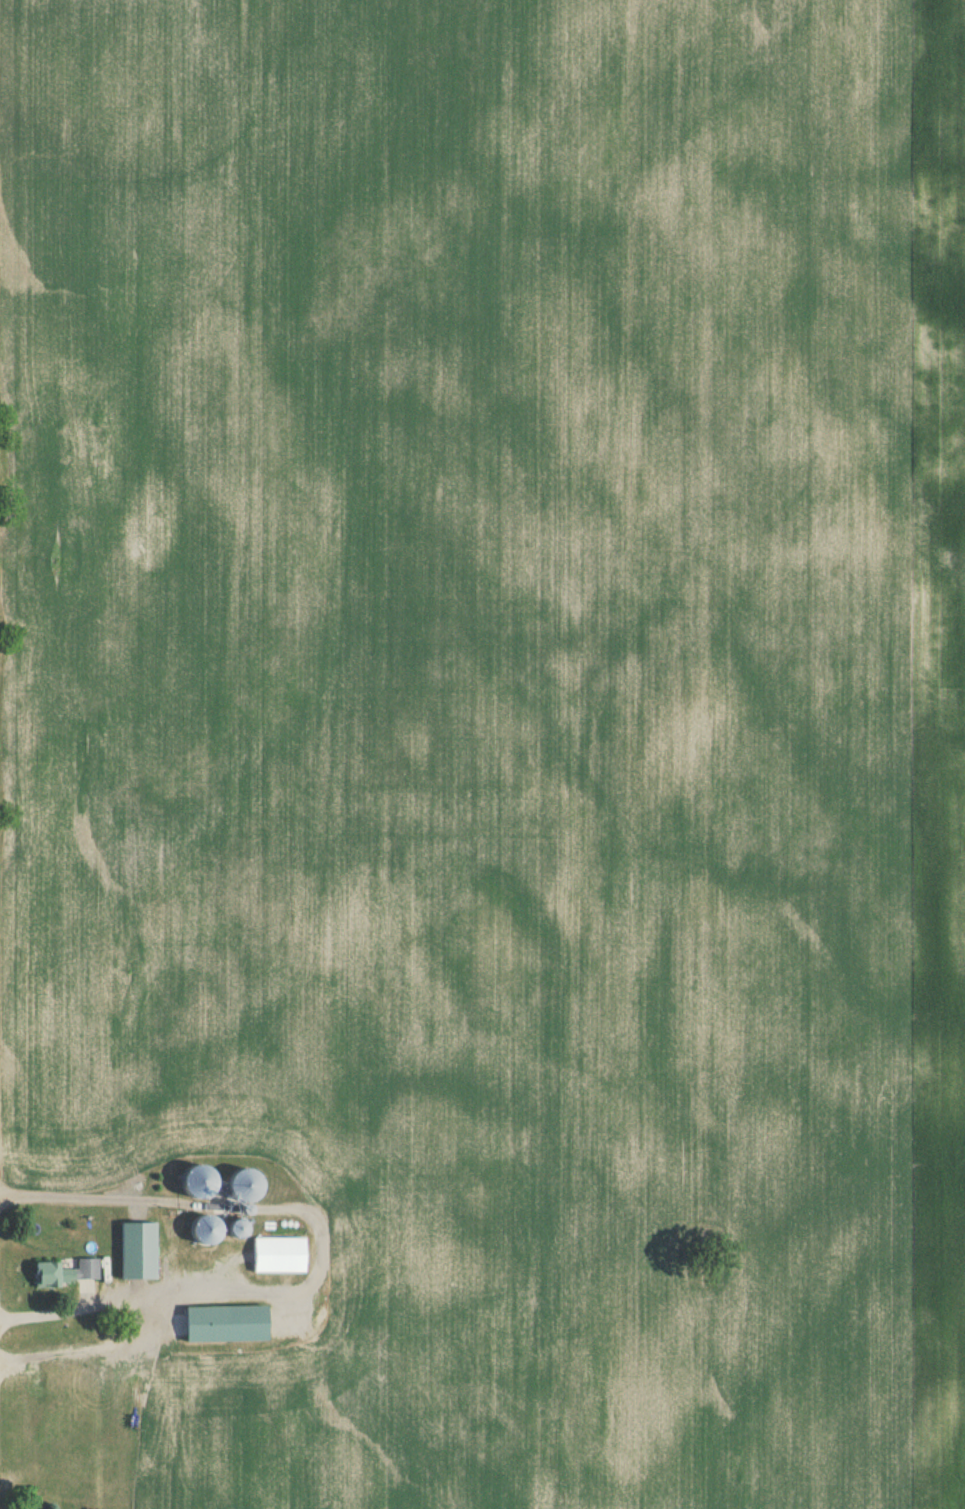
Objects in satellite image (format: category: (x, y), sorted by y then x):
building: (191, 1185)
building: (237, 1187)
road: (96, 1200)
building: (231, 1232)
building: (202, 1233)
building: (135, 1254)
building: (275, 1259)
building: (61, 1277)
road: (188, 1291)
road: (88, 1307)
building: (221, 1328)

